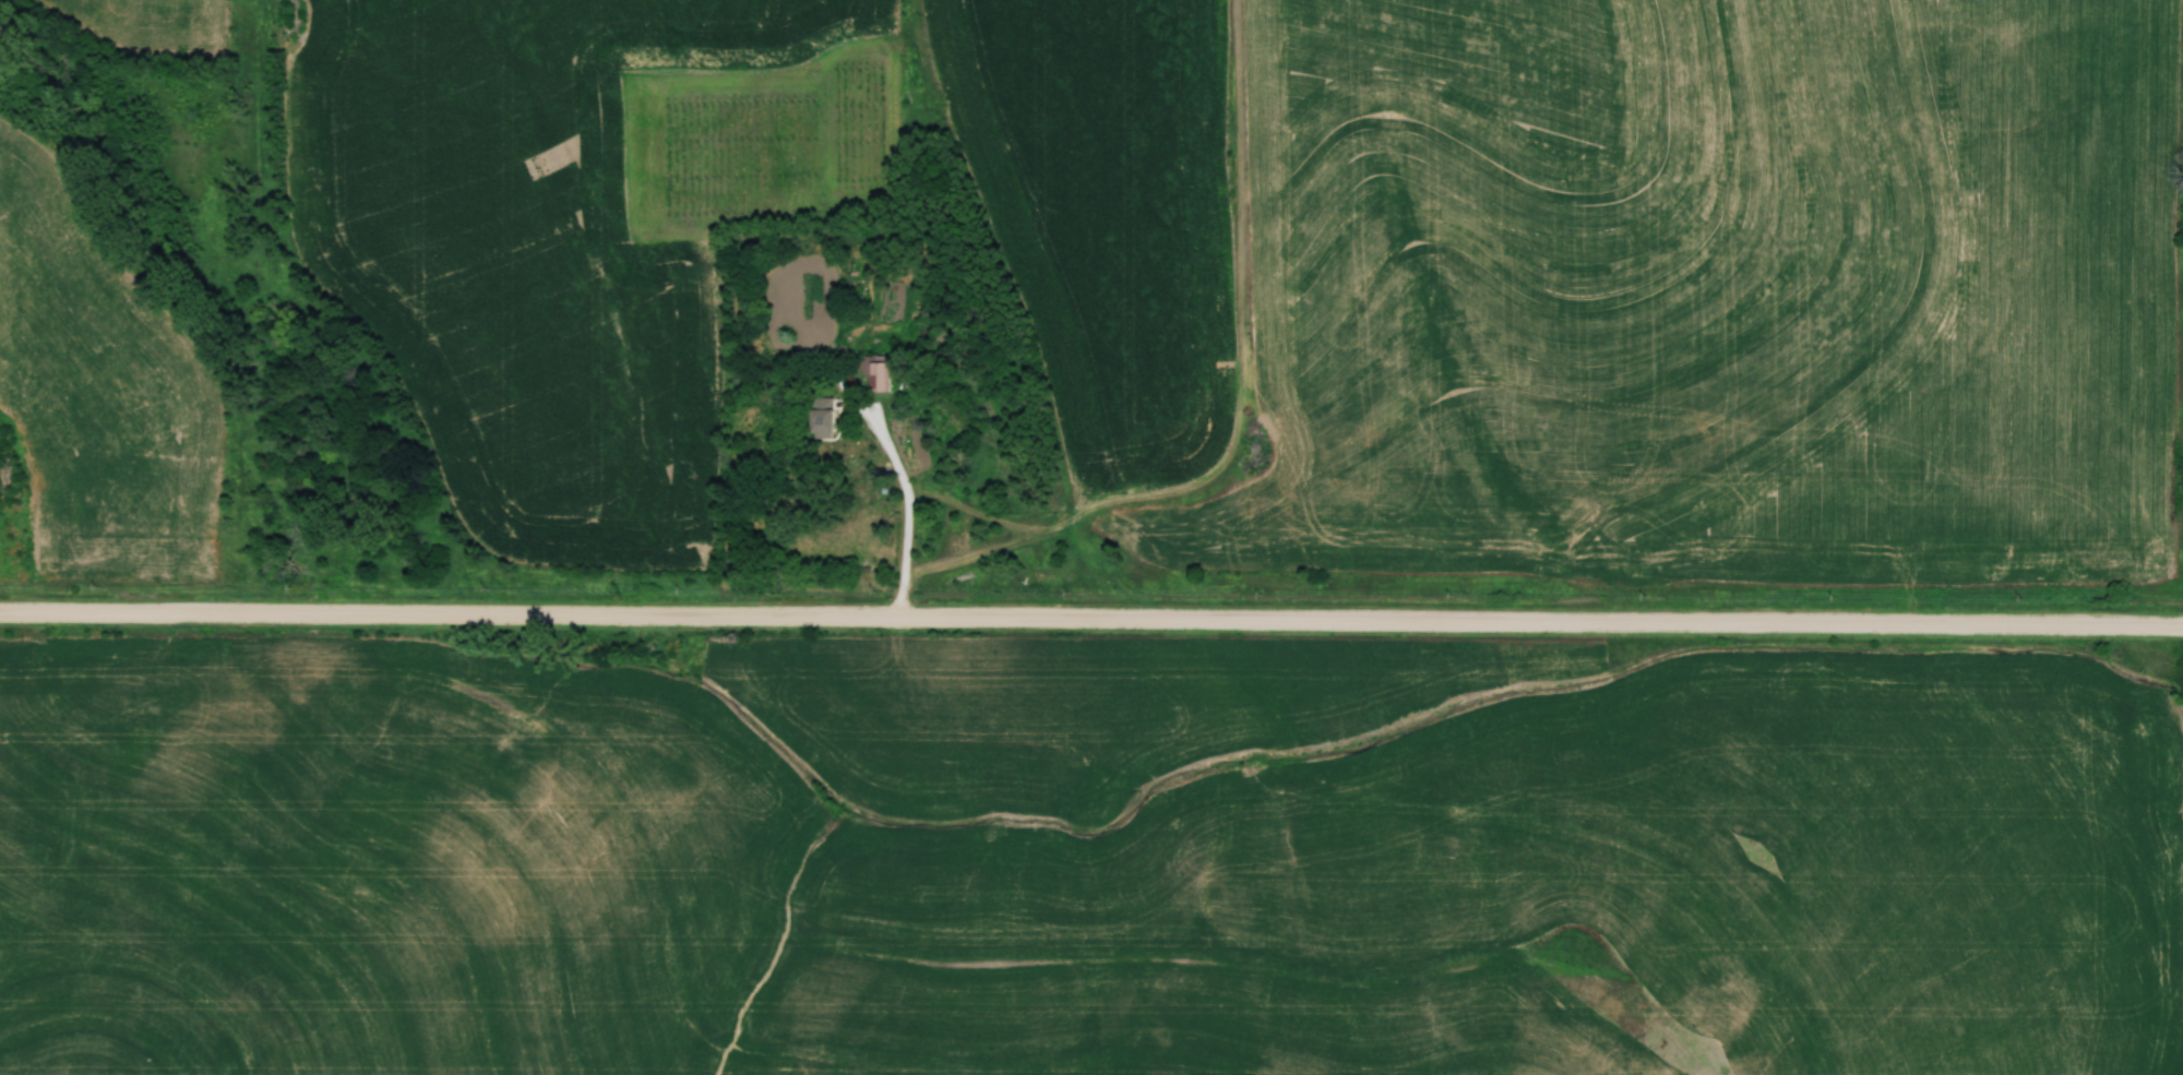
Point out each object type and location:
building: (875, 373)
building: (821, 419)
road: (910, 514)
road: (1090, 620)

